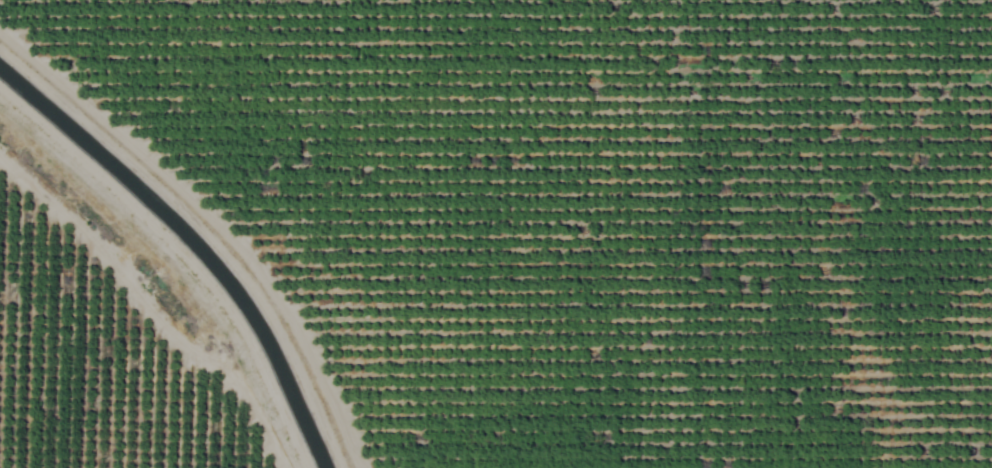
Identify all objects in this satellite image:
crop: (496, 234)

